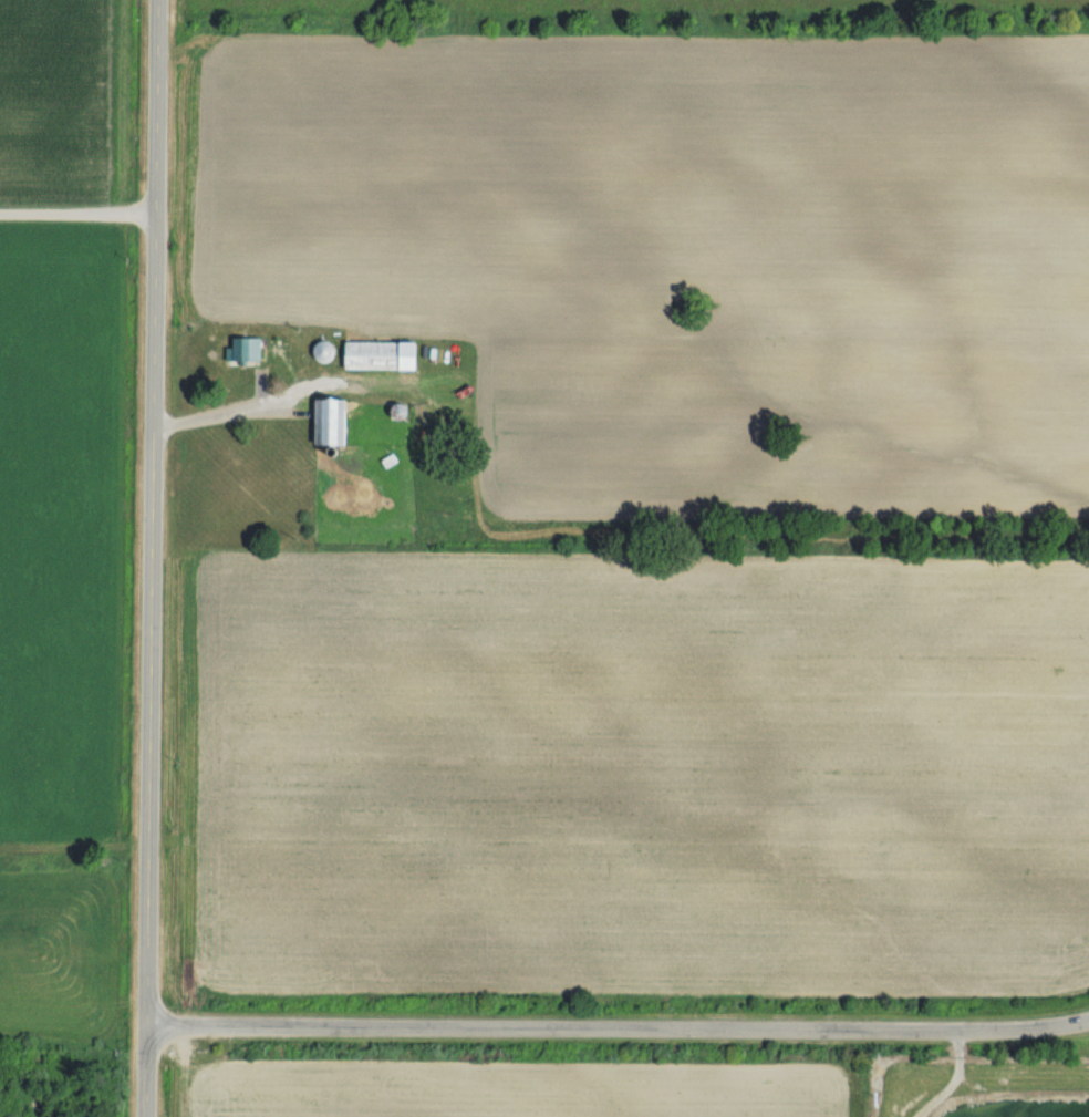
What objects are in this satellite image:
road: (77, 214)
building: (238, 350)
building: (362, 356)
road: (212, 418)
building: (320, 423)
road: (151, 558)
road: (616, 1027)

